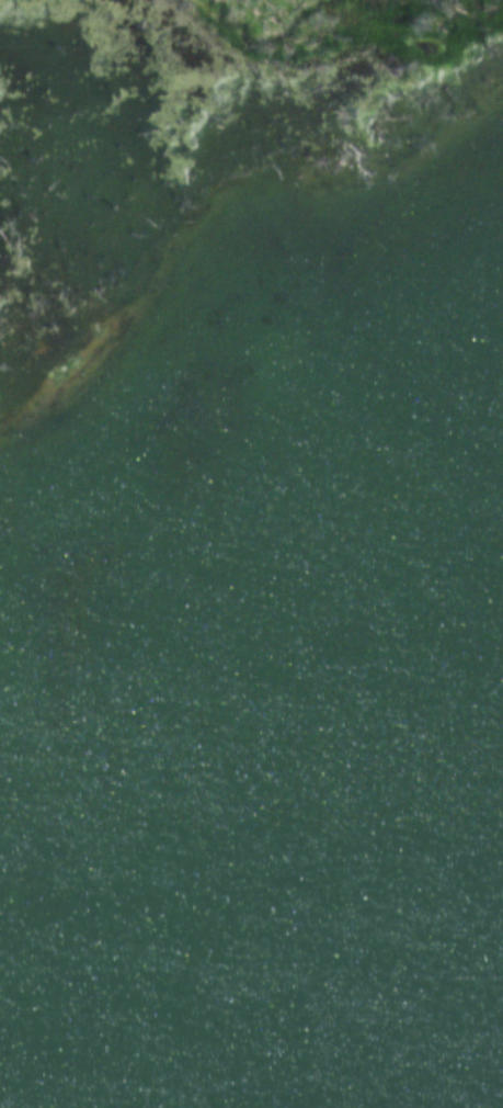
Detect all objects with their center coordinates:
road: (421, 46)

